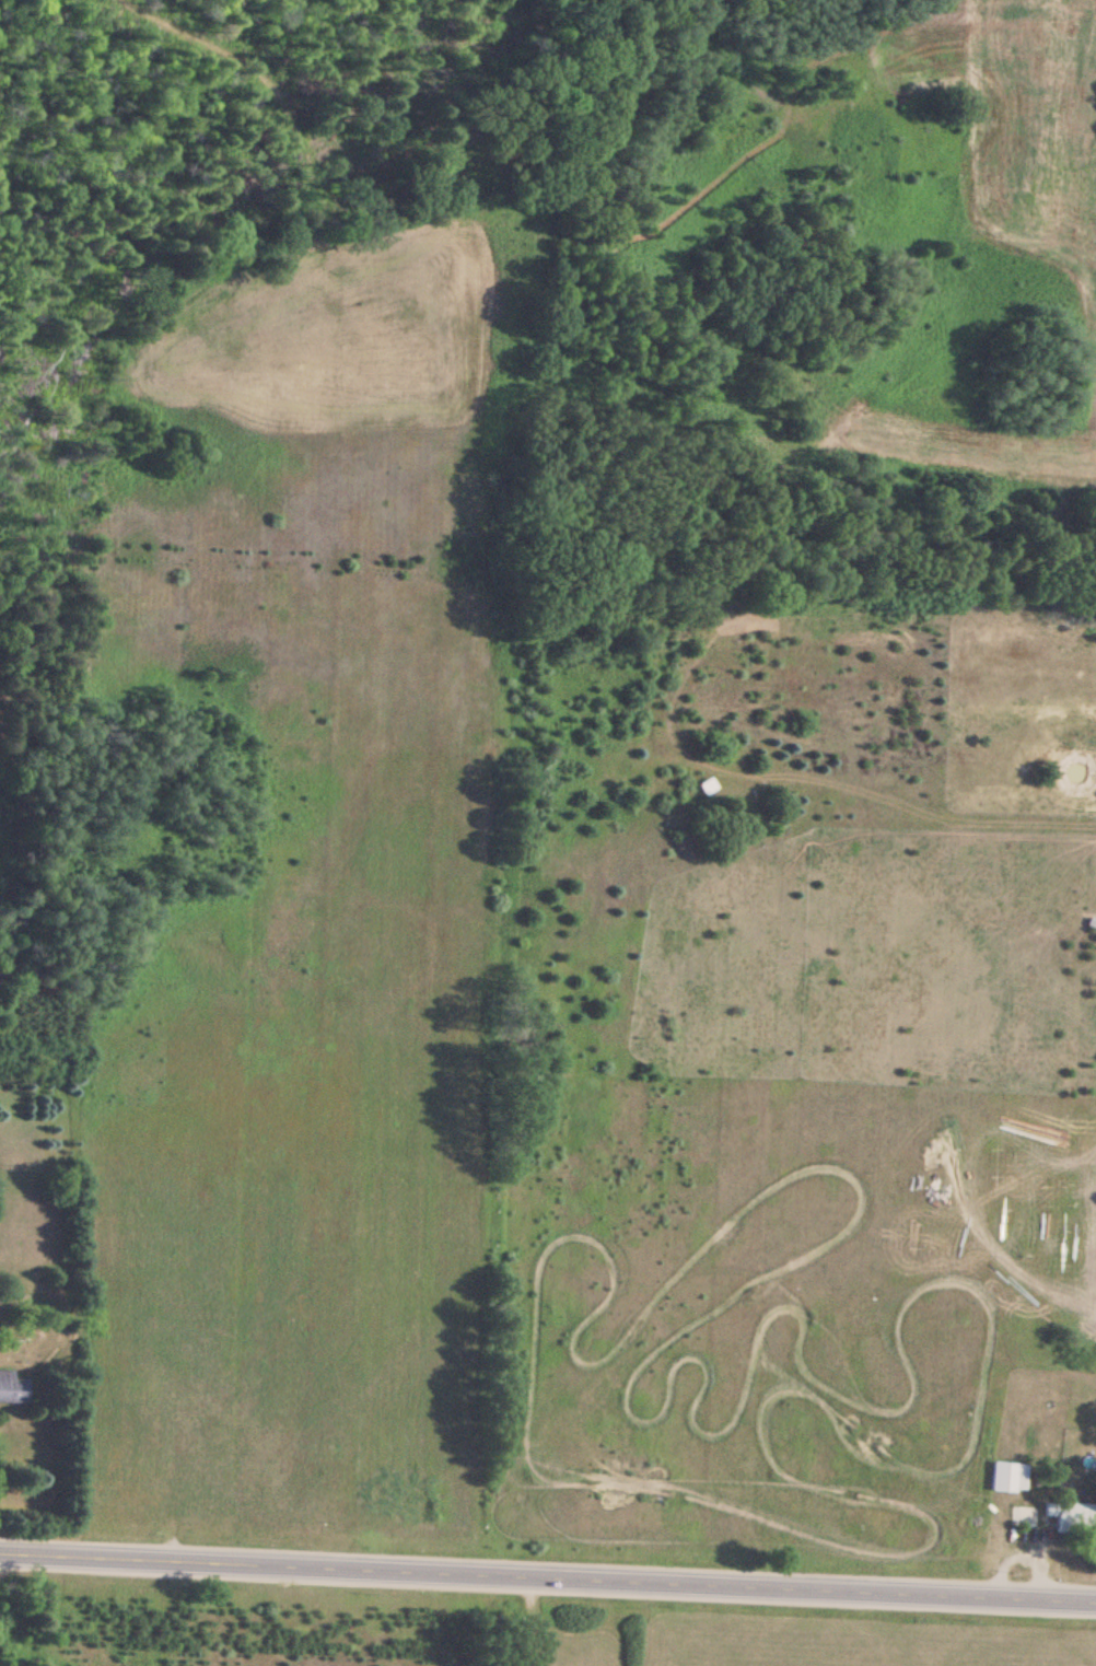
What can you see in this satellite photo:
building: (11, 1389)
building: (1004, 1477)
building: (1070, 1514)
road: (547, 1576)

